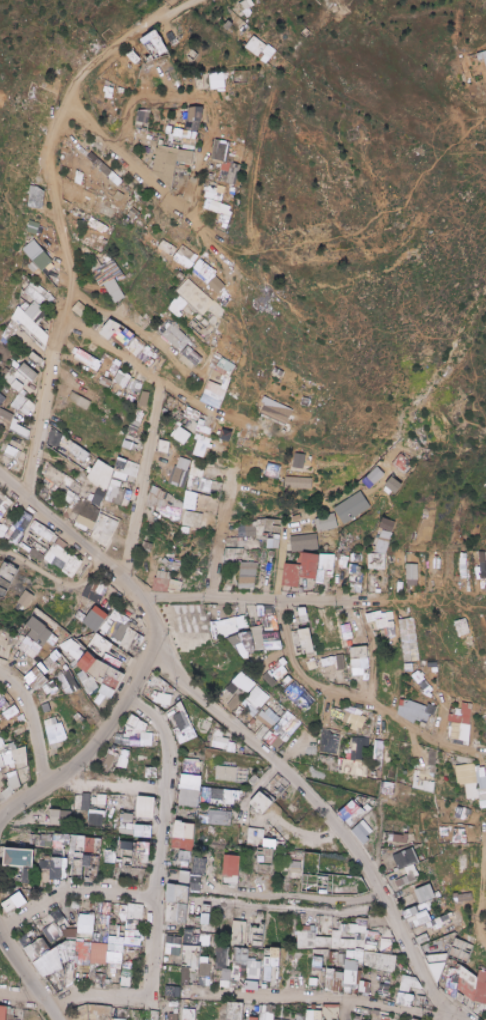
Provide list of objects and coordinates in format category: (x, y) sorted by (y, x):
building: (248, 6)
building: (158, 45)
building: (257, 46)
building: (485, 54)
building: (134, 57)
road: (39, 60)
building: (109, 93)
road: (179, 95)
building: (198, 113)
road: (482, 115)
building: (145, 117)
building: (187, 138)
building: (220, 151)
building: (171, 162)
road: (140, 172)
building: (230, 174)
building: (37, 179)
building: (34, 188)
road: (194, 189)
building: (35, 197)
building: (31, 206)
building: (216, 207)
building: (33, 208)
building: (104, 208)
road: (58, 212)
building: (33, 252)
building: (184, 257)
building: (27, 262)
building: (31, 267)
building: (210, 279)
building: (27, 282)
building: (32, 289)
building: (114, 291)
building: (195, 296)
building: (177, 306)
building: (79, 309)
building: (48, 329)
building: (120, 334)
building: (176, 338)
building: (189, 357)
building: (88, 360)
building: (225, 368)
building: (29, 373)
building: (123, 379)
building: (19, 386)
building: (136, 386)
building: (214, 395)
building: (2, 399)
building: (80, 401)
building: (25, 404)
building: (276, 412)
building: (6, 415)
building: (1, 421)
building: (134, 427)
building: (180, 436)
building: (67, 444)
building: (200, 446)
building: (164, 447)
building: (11, 452)
building: (82, 454)
building: (401, 464)
building: (124, 470)
building: (180, 470)
building: (272, 471)
building: (376, 475)
building: (54, 476)
building: (101, 482)
building: (299, 483)
building: (393, 485)
building: (70, 486)
building: (46, 490)
building: (118, 497)
building: (4, 504)
building: (164, 504)
building: (351, 507)
building: (84, 509)
building: (192, 520)
building: (326, 524)
building: (44, 531)
building: (105, 531)
building: (14, 537)
building: (305, 543)
building: (381, 546)
road: (87, 547)
building: (36, 555)
building: (63, 559)
building: (482, 565)
building: (306, 570)
building: (412, 575)
building: (249, 576)
building: (6, 577)
building: (356, 579)
building: (161, 581)
building: (175, 586)
building: (98, 594)
building: (25, 599)
building: (267, 617)
building: (93, 619)
building: (40, 632)

